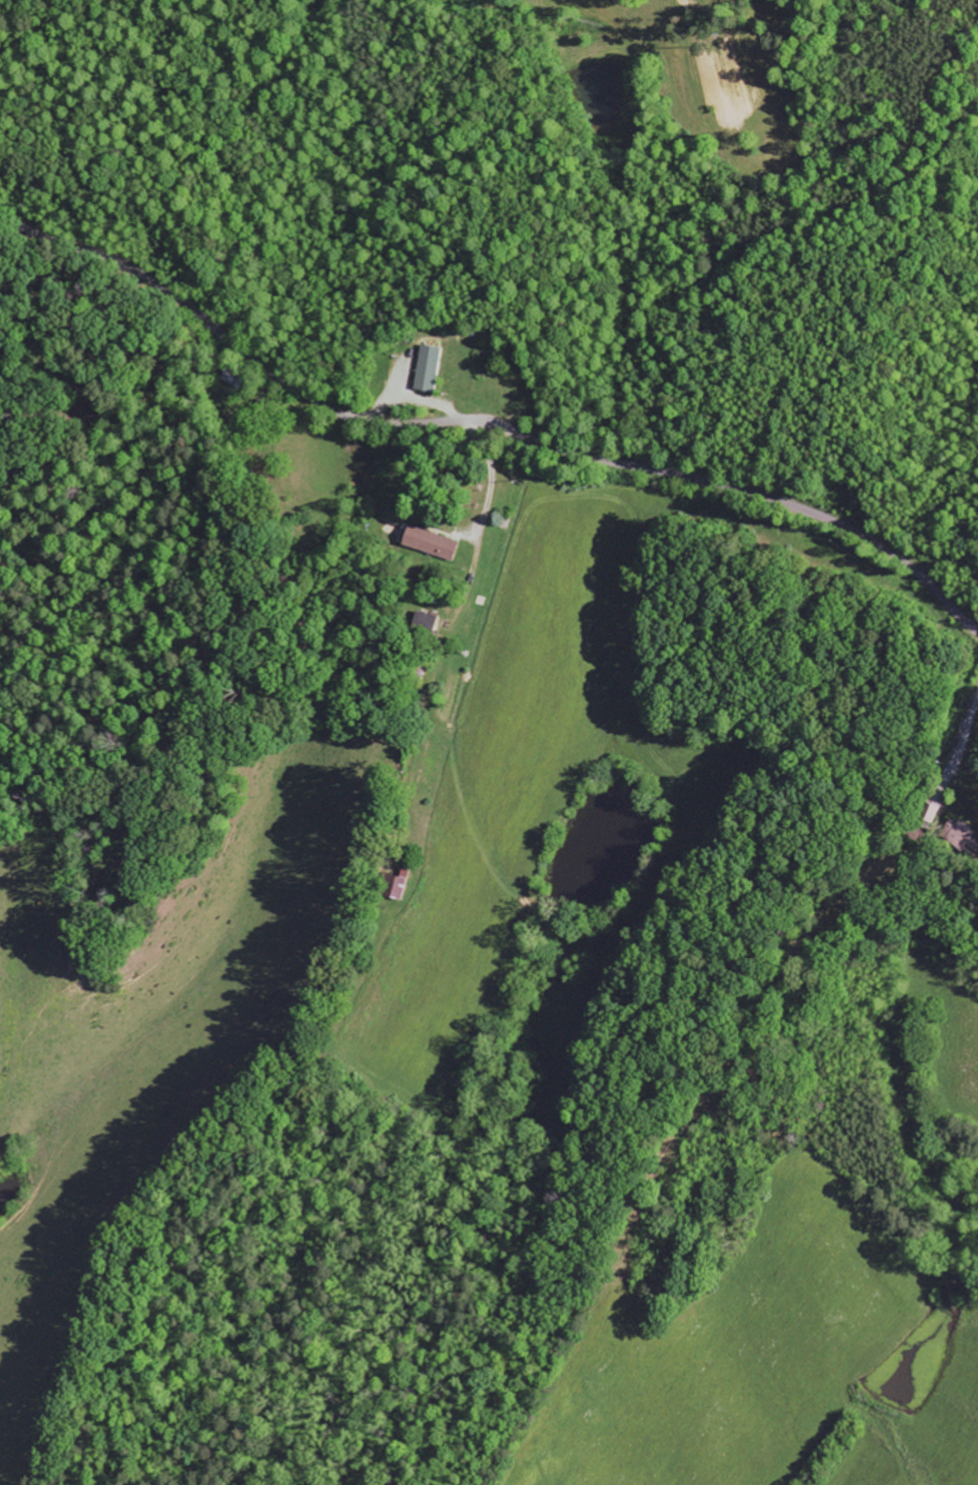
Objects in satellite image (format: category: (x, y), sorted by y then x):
building: (427, 369)
road: (485, 418)
road: (472, 483)
building: (428, 543)

